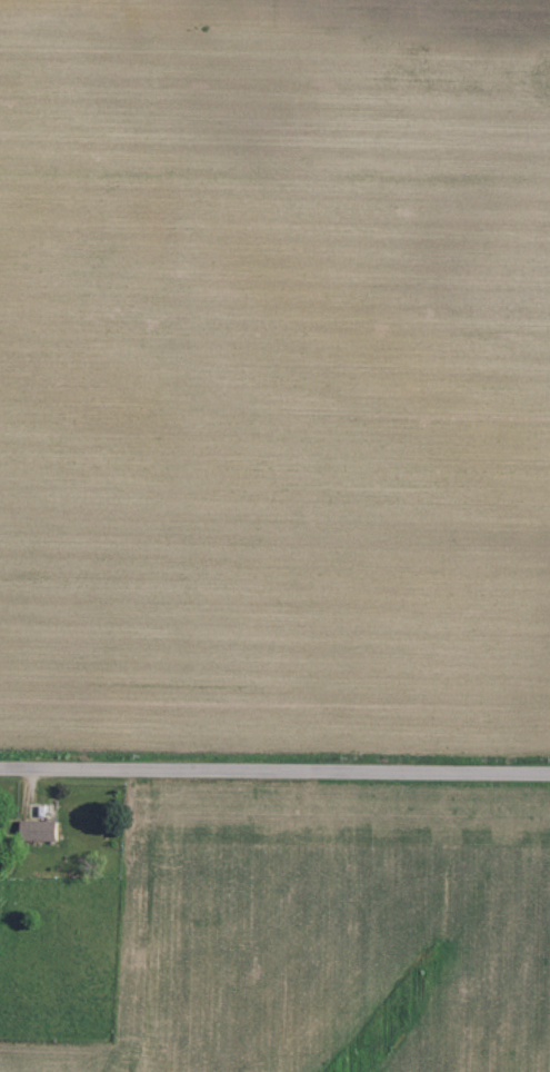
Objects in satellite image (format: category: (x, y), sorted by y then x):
road: (274, 772)
building: (38, 830)

